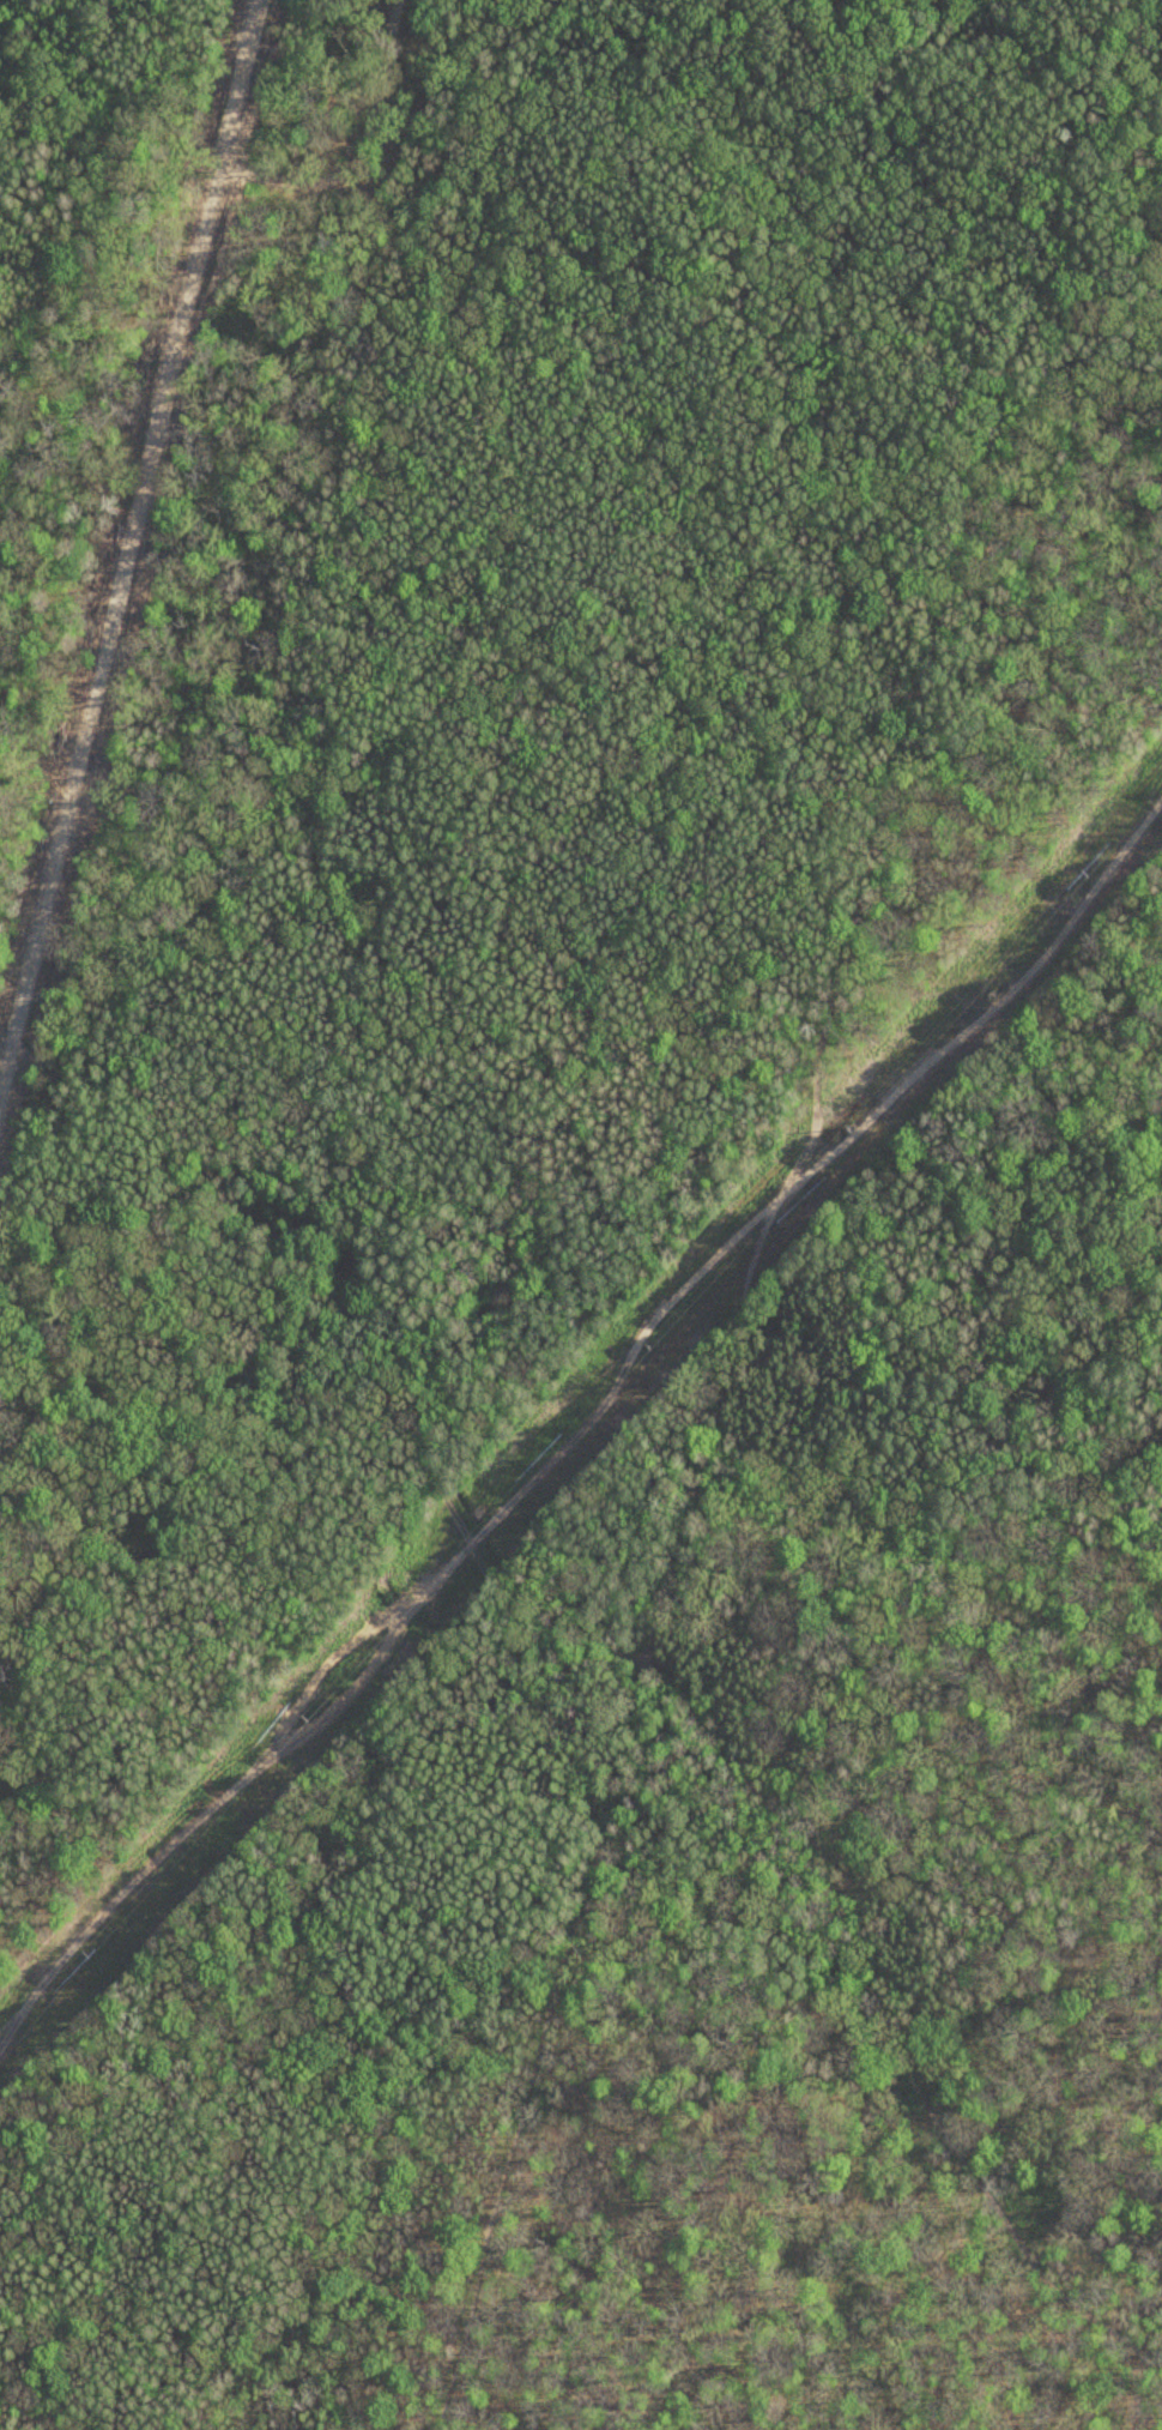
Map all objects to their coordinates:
road: (127, 543)
road: (5, 1044)
park: (581, 1214)
road: (353, 1325)
road: (880, 2016)
road: (543, 2043)
road: (607, 2187)

